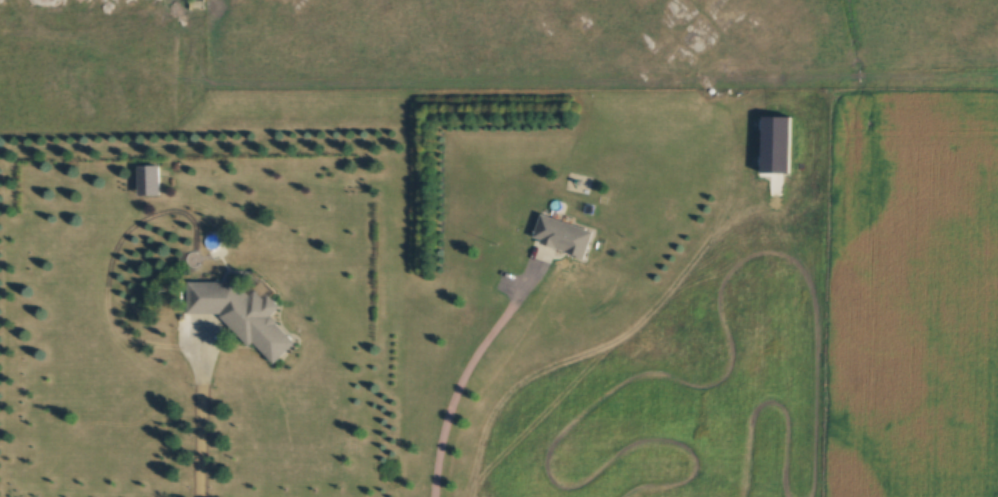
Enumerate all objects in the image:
building: (562, 237)
building: (241, 316)
road: (468, 369)
road: (201, 425)

